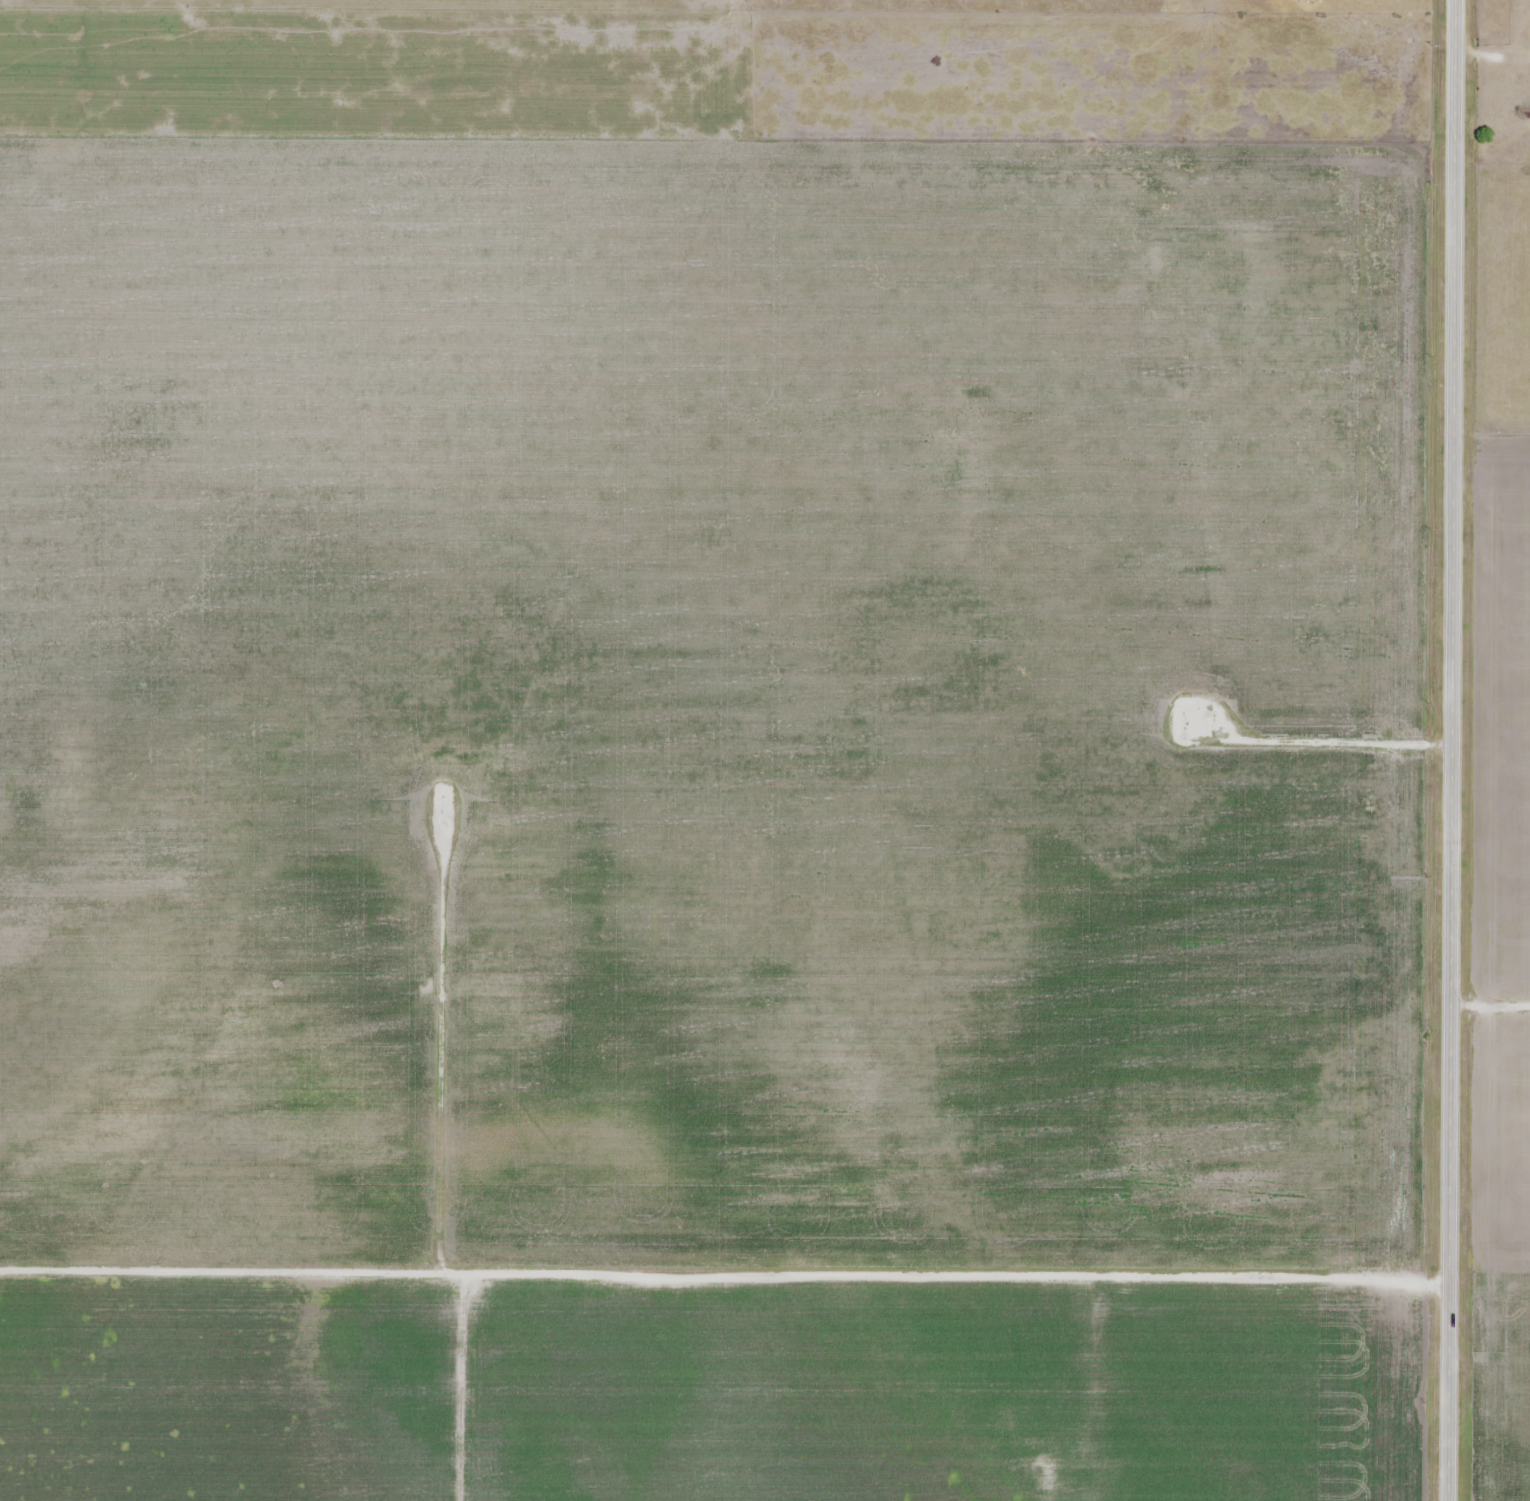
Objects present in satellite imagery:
road: (1450, 750)

